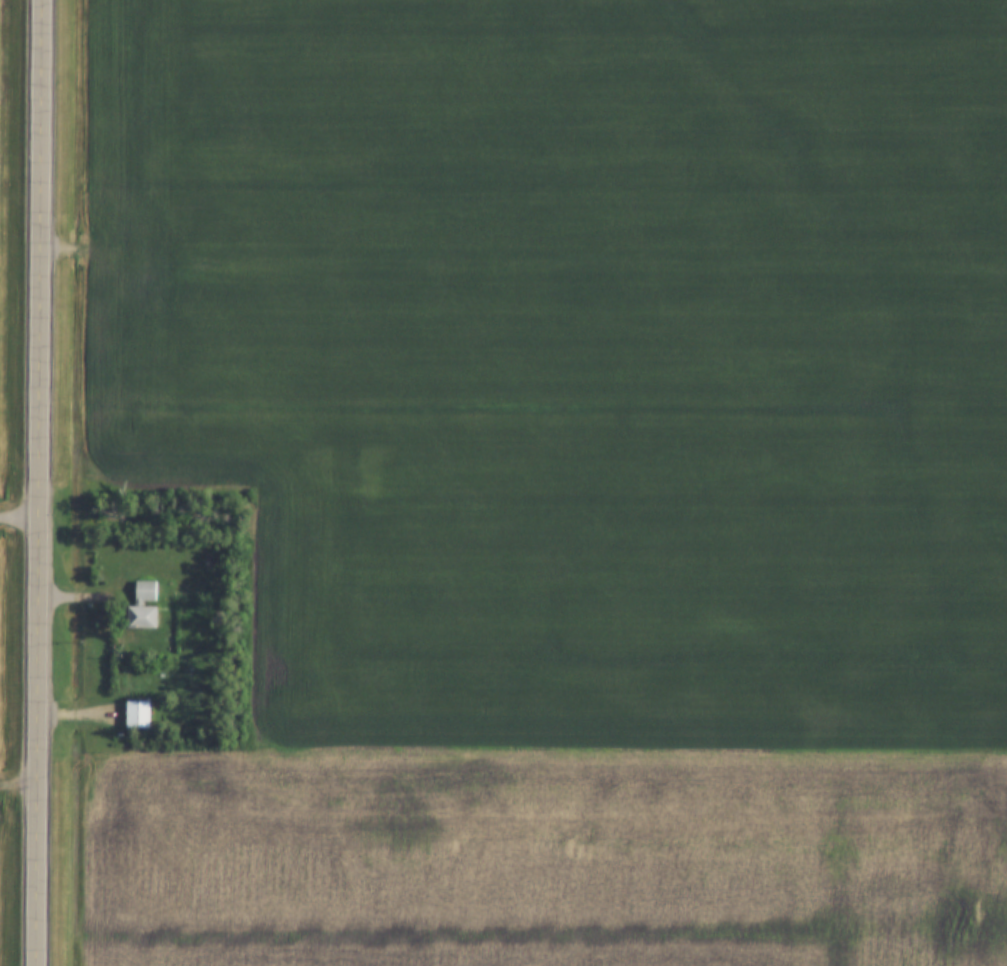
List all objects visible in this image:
road: (39, 482)
road: (19, 520)
building: (146, 590)
building: (143, 616)
building: (138, 714)

